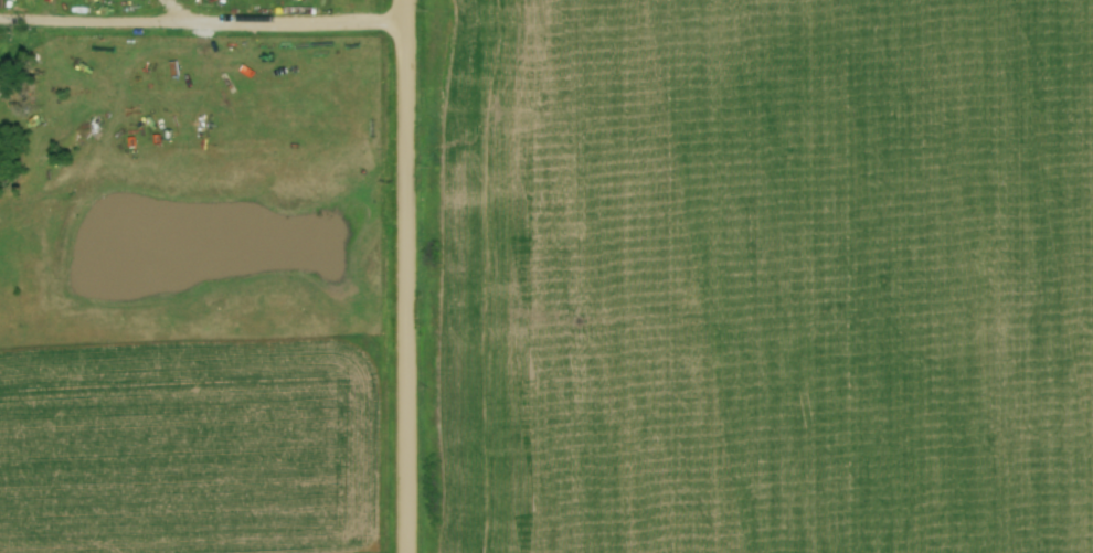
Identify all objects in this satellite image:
road: (201, 30)
road: (403, 276)

